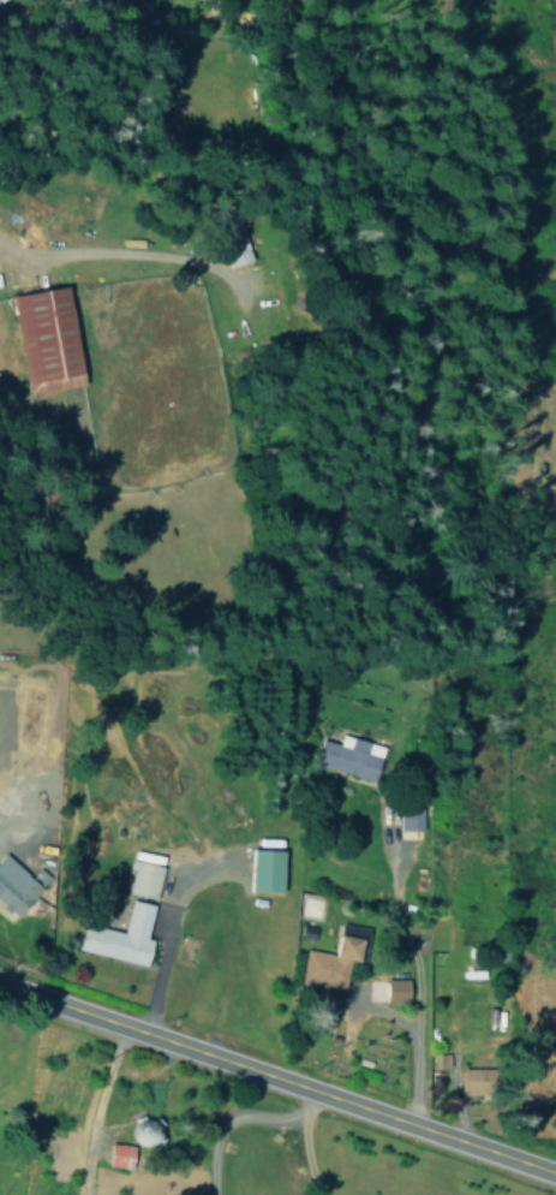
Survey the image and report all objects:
building: (89, 1)
road: (48, 20)
road: (112, 250)
building: (52, 339)
building: (352, 756)
building: (411, 818)
building: (144, 879)
building: (19, 884)
building: (122, 937)
building: (333, 962)
building: (400, 988)
road: (276, 1081)
building: (483, 1081)
road: (92, 1108)
building: (122, 1155)

